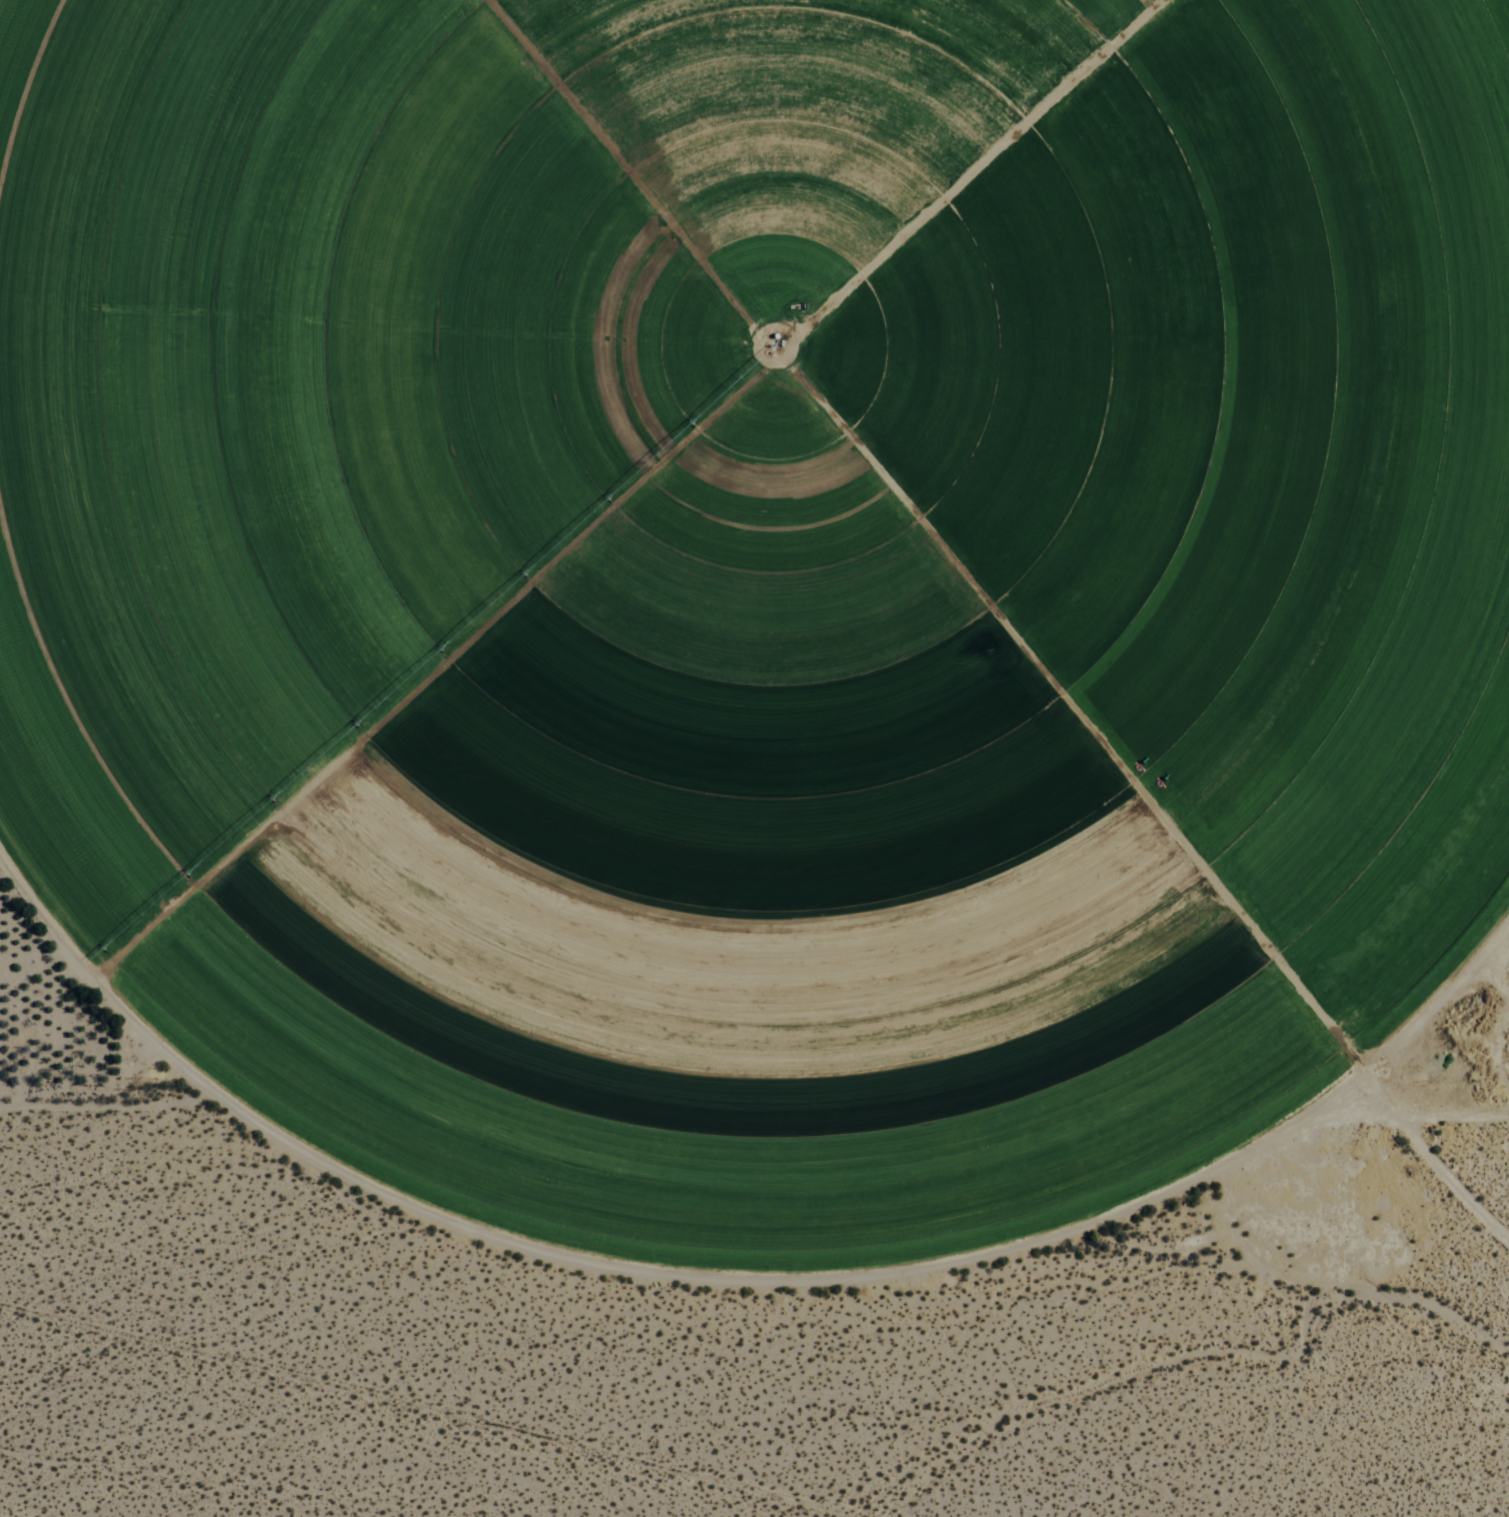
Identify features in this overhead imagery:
crop: (754, 583)

